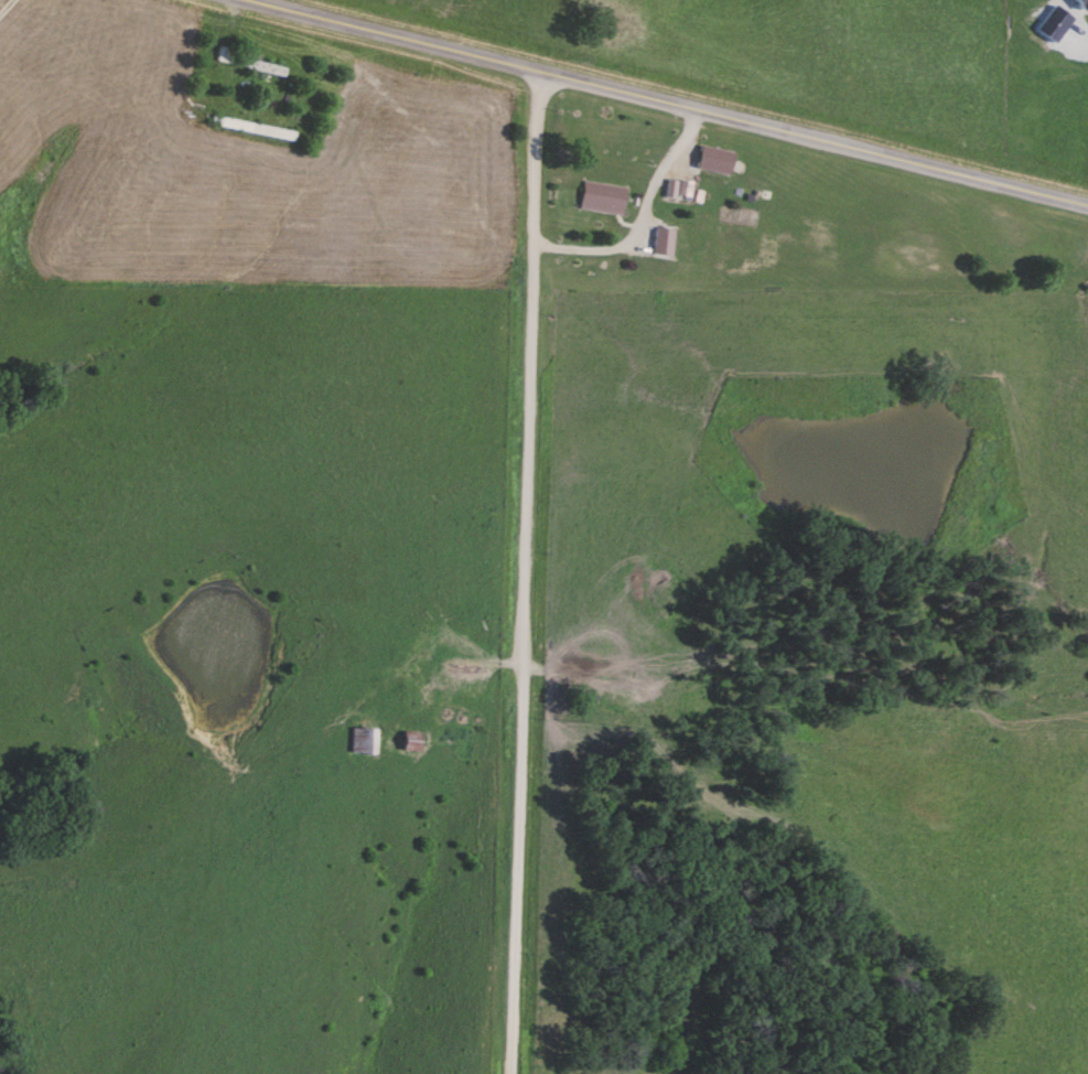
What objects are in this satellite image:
building: (220, 54)
building: (260, 66)
road: (663, 104)
building: (597, 195)
building: (656, 240)
road: (528, 573)
building: (356, 740)
building: (403, 740)

